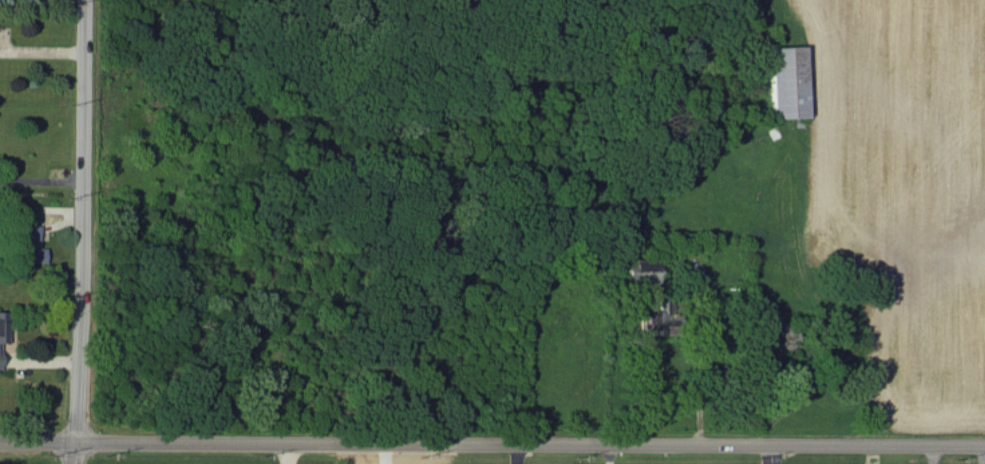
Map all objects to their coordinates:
building: (786, 81)
road: (40, 179)
road: (79, 222)
building: (29, 244)
building: (640, 270)
building: (654, 317)
building: (2, 326)
road: (492, 445)
road: (71, 454)
road: (285, 454)

